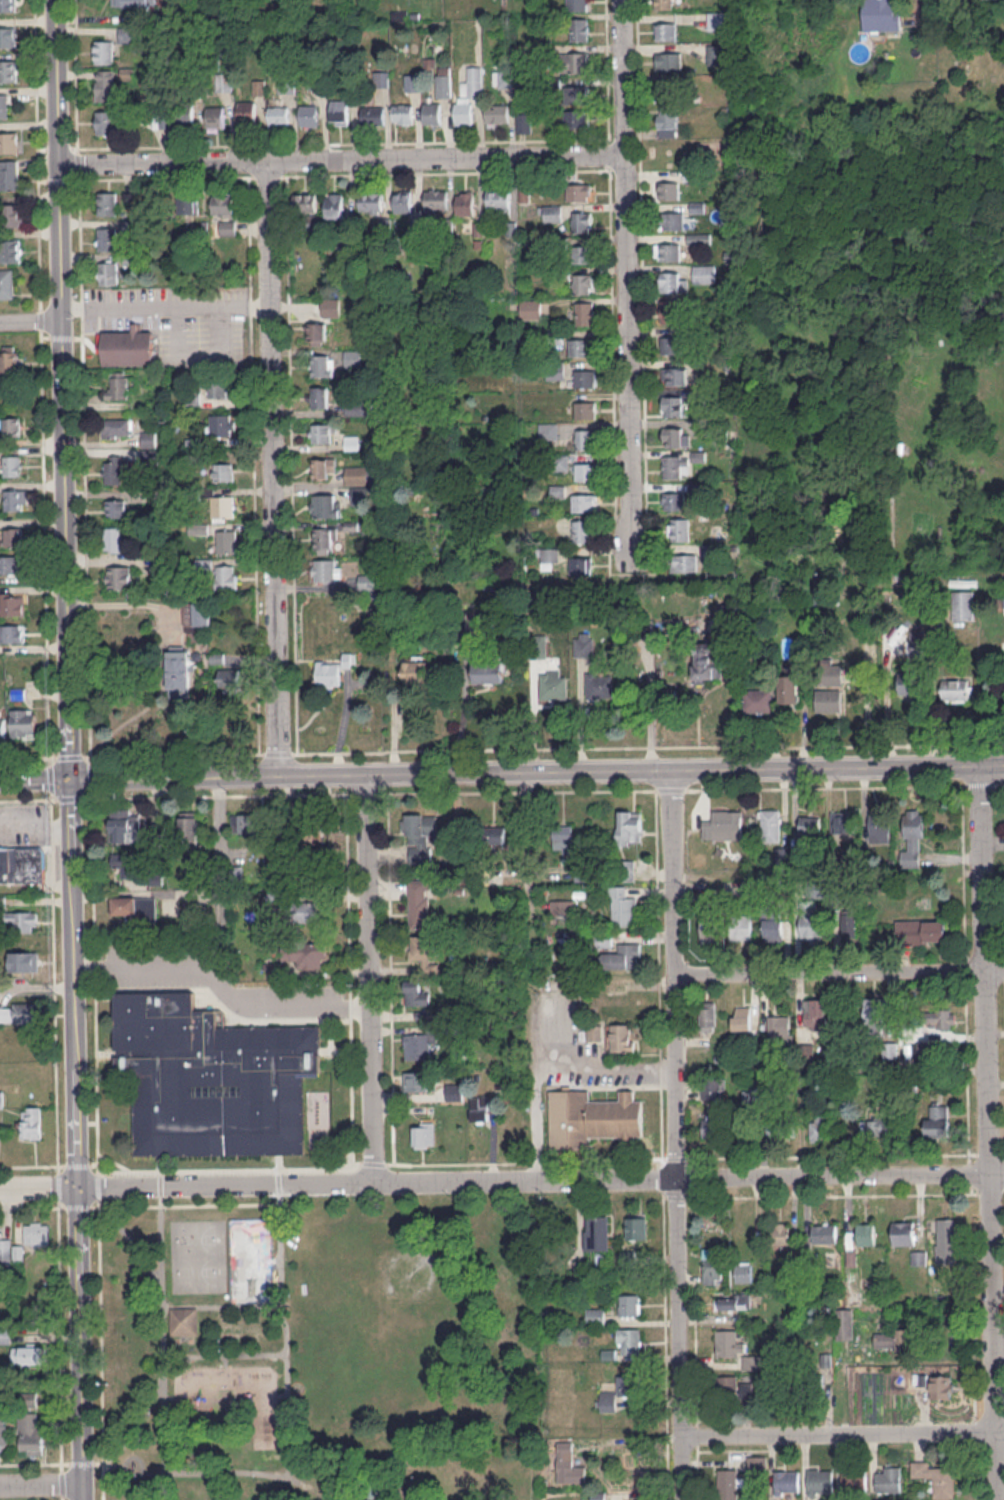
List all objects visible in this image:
building: (130, 2)
building: (666, 4)
building: (7, 5)
building: (577, 5)
building: (881, 15)
building: (716, 20)
building: (578, 29)
building: (665, 30)
building: (127, 34)
building: (8, 36)
building: (104, 51)
building: (716, 54)
building: (668, 61)
building: (577, 62)
building: (8, 70)
road: (76, 75)
building: (502, 78)
road: (57, 79)
building: (412, 81)
building: (443, 82)
building: (106, 85)
building: (259, 86)
building: (576, 94)
building: (468, 95)
building: (4, 105)
building: (339, 111)
building: (278, 112)
building: (247, 113)
building: (403, 113)
building: (432, 113)
building: (185, 114)
building: (373, 114)
building: (309, 115)
building: (497, 115)
building: (216, 116)
building: (576, 118)
building: (107, 121)
building: (161, 122)
building: (523, 122)
building: (667, 122)
road: (412, 141)
building: (9, 142)
park: (685, 152)
road: (37, 154)
road: (341, 159)
road: (78, 163)
building: (9, 174)
road: (264, 176)
road: (167, 177)
building: (668, 190)
building: (578, 191)
building: (498, 199)
building: (435, 200)
building: (403, 201)
building: (306, 202)
building: (371, 202)
building: (465, 202)
building: (107, 203)
building: (188, 203)
building: (224, 205)
building: (334, 205)
building: (550, 213)
building: (13, 215)
building: (673, 220)
building: (582, 221)
building: (227, 226)
road: (80, 237)
building: (108, 238)
building: (698, 238)
road: (640, 242)
building: (10, 250)
building: (668, 251)
building: (585, 253)
road: (609, 255)
building: (108, 272)
building: (704, 273)
building: (673, 281)
building: (583, 283)
building: (6, 284)
road: (625, 286)
road: (164, 304)
road: (82, 307)
building: (330, 307)
building: (531, 308)
building: (668, 310)
building: (585, 312)
parking lot: (175, 317)
road: (40, 318)
road: (30, 320)
road: (177, 330)
road: (220, 330)
building: (316, 330)
road: (45, 337)
road: (60, 337)
road: (87, 342)
building: (670, 344)
building: (127, 347)
building: (579, 347)
building: (354, 357)
building: (9, 362)
building: (322, 365)
building: (674, 375)
building: (584, 377)
building: (122, 385)
building: (218, 389)
building: (320, 396)
building: (671, 405)
building: (359, 407)
building: (585, 409)
building: (222, 425)
building: (12, 426)
building: (117, 427)
building: (548, 430)
building: (323, 432)
building: (676, 436)
building: (585, 438)
building: (149, 439)
building: (11, 465)
building: (676, 466)
road: (272, 467)
building: (324, 467)
road: (66, 469)
building: (115, 470)
building: (223, 471)
building: (585, 471)
building: (358, 474)
road: (35, 484)
building: (356, 496)
building: (15, 499)
building: (674, 500)
building: (583, 502)
building: (326, 505)
building: (223, 506)
building: (116, 508)
building: (678, 529)
building: (581, 531)
building: (14, 536)
road: (86, 539)
building: (113, 539)
building: (325, 540)
building: (228, 541)
road: (45, 546)
building: (685, 562)
building: (11, 564)
building: (580, 564)
building: (327, 570)
building: (227, 576)
building: (119, 577)
building: (368, 581)
building: (12, 603)
building: (963, 604)
building: (201, 613)
building: (12, 633)
building: (584, 644)
building: (540, 645)
building: (216, 657)
building: (707, 663)
building: (333, 670)
building: (417, 671)
building: (488, 672)
building: (179, 673)
building: (833, 674)
building: (232, 678)
building: (907, 682)
building: (554, 684)
building: (599, 685)
building: (789, 688)
building: (957, 690)
road: (651, 698)
building: (758, 700)
building: (829, 700)
building: (24, 722)
building: (3, 727)
road: (649, 746)
road: (278, 753)
road: (173, 754)
road: (69, 756)
road: (28, 757)
road: (992, 763)
road: (525, 769)
road: (51, 777)
road: (91, 778)
road: (35, 780)
road: (1002, 782)
road: (985, 783)
road: (828, 787)
road: (671, 789)
road: (519, 791)
road: (370, 793)
road: (221, 794)
road: (70, 797)
road: (28, 798)
building: (840, 822)
building: (915, 822)
building: (810, 823)
building: (247, 824)
building: (189, 825)
building: (724, 825)
building: (770, 825)
building: (124, 826)
building: (629, 827)
building: (312, 831)
building: (494, 835)
building: (421, 838)
building: (563, 838)
building: (126, 863)
building: (22, 864)
building: (303, 872)
road: (963, 872)
road: (52, 886)
building: (420, 903)
building: (134, 906)
building: (622, 906)
building: (307, 911)
building: (23, 920)
building: (848, 924)
building: (709, 926)
building: (741, 926)
building: (773, 928)
building: (922, 930)
building: (603, 940)
road: (94, 951)
building: (425, 951)
building: (307, 954)
building: (623, 956)
building: (24, 961)
road: (966, 968)
road: (997, 970)
road: (832, 971)
road: (658, 976)
road: (375, 979)
road: (349, 981)
road: (76, 983)
road: (225, 986)
road: (38, 988)
building: (417, 992)
building: (20, 1011)
building: (873, 1013)
building: (815, 1014)
building: (707, 1016)
building: (742, 1018)
building: (942, 1018)
building: (779, 1025)
building: (594, 1032)
building: (623, 1037)
road: (533, 1039)
building: (417, 1046)
building: (889, 1049)
building: (808, 1053)
road: (605, 1068)
road: (967, 1069)
road: (55, 1076)
building: (213, 1080)
building: (419, 1080)
building: (454, 1092)
building: (705, 1094)
building: (752, 1094)
building: (2, 1097)
road: (688, 1098)
building: (479, 1107)
building: (593, 1117)
building: (937, 1120)
building: (31, 1122)
building: (879, 1124)
building: (712, 1126)
building: (819, 1127)
building: (782, 1129)
road: (990, 1131)
road: (680, 1133)
building: (424, 1134)
road: (97, 1141)
road: (988, 1154)
road: (689, 1155)
road: (831, 1155)
road: (1002, 1156)
road: (536, 1157)
road: (605, 1157)
road: (676, 1157)
road: (374, 1163)
road: (458, 1163)
road: (32, 1165)
road: (77, 1165)
road: (225, 1169)
road: (970, 1173)
road: (997, 1173)
road: (692, 1174)
road: (662, 1177)
road: (685, 1178)
road: (58, 1185)
road: (98, 1185)
road: (278, 1185)
road: (160, 1187)
road: (231, 1187)
road: (1003, 1188)
road: (40, 1189)
road: (989, 1189)
road: (835, 1194)
road: (664, 1196)
road: (675, 1196)
road: (688, 1196)
road: (187, 1204)
road: (31, 1206)
road: (80, 1206)
building: (637, 1228)
building: (597, 1232)
building: (825, 1232)
building: (904, 1232)
building: (36, 1233)
building: (780, 1233)
building: (866, 1233)
road: (133, 1239)
building: (945, 1239)
building: (6, 1249)
park: (199, 1256)
building: (919, 1257)
park: (252, 1261)
building: (711, 1265)
building: (580, 1267)
building: (743, 1271)
road: (972, 1300)
building: (735, 1301)
building: (630, 1304)
road: (221, 1306)
road: (695, 1306)
building: (595, 1316)
building: (183, 1320)
building: (847, 1323)
road: (60, 1334)
building: (5, 1335)
road: (162, 1338)
building: (892, 1338)
road: (285, 1339)
building: (629, 1340)
road: (82, 1344)
road: (665, 1346)
building: (734, 1347)
road: (101, 1349)
park: (323, 1352)
building: (28, 1354)
road: (225, 1356)
building: (626, 1385)
building: (728, 1385)
building: (941, 1386)
building: (608, 1400)
road: (138, 1426)
road: (975, 1429)
building: (3, 1432)
road: (843, 1433)
building: (32, 1434)
road: (696, 1434)
road: (732, 1449)
road: (137, 1455)
building: (395, 1458)
road: (82, 1461)
road: (99, 1461)
road: (34, 1462)
building: (569, 1464)
road: (220, 1471)
road: (976, 1471)
road: (697, 1472)
building: (936, 1477)
building: (889, 1478)
building: (855, 1479)
building: (788, 1480)
building: (821, 1481)
road: (62, 1483)
building: (730, 1484)
road: (42, 1485)
building: (380, 1492)
road: (63, 1498)

